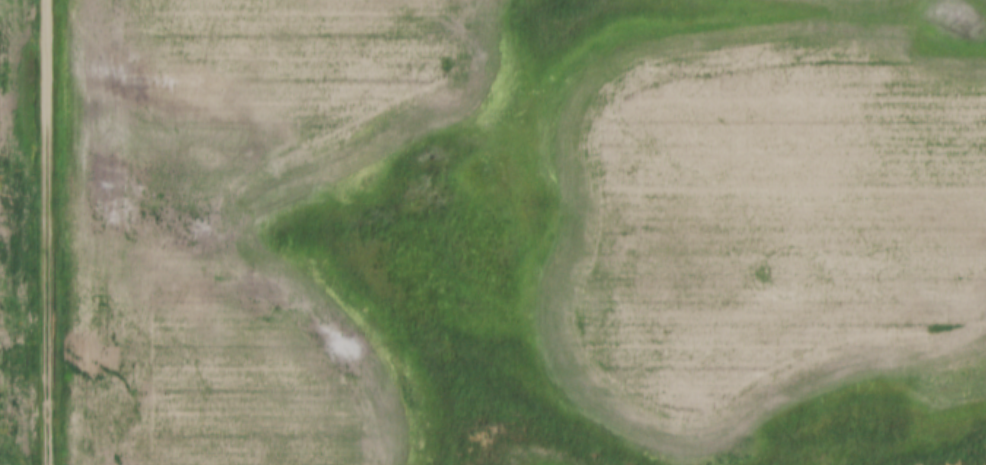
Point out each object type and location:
road: (50, 232)

